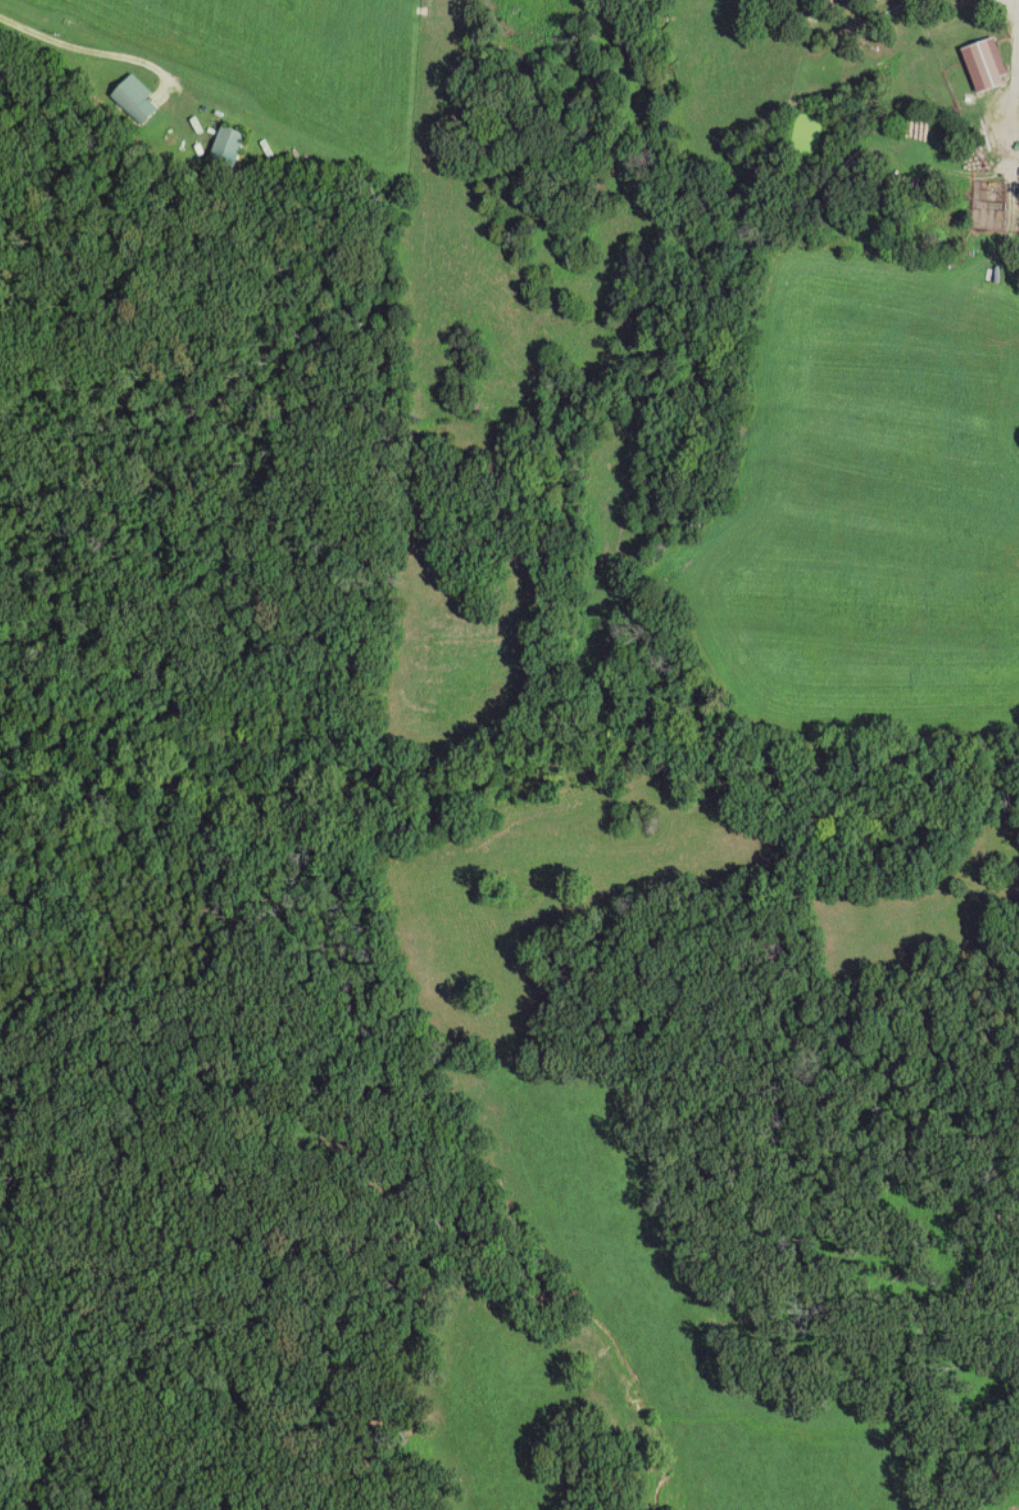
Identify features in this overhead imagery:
building: (848, 2)
road: (82, 46)
building: (990, 63)
road: (1015, 89)
building: (137, 100)
building: (231, 146)

